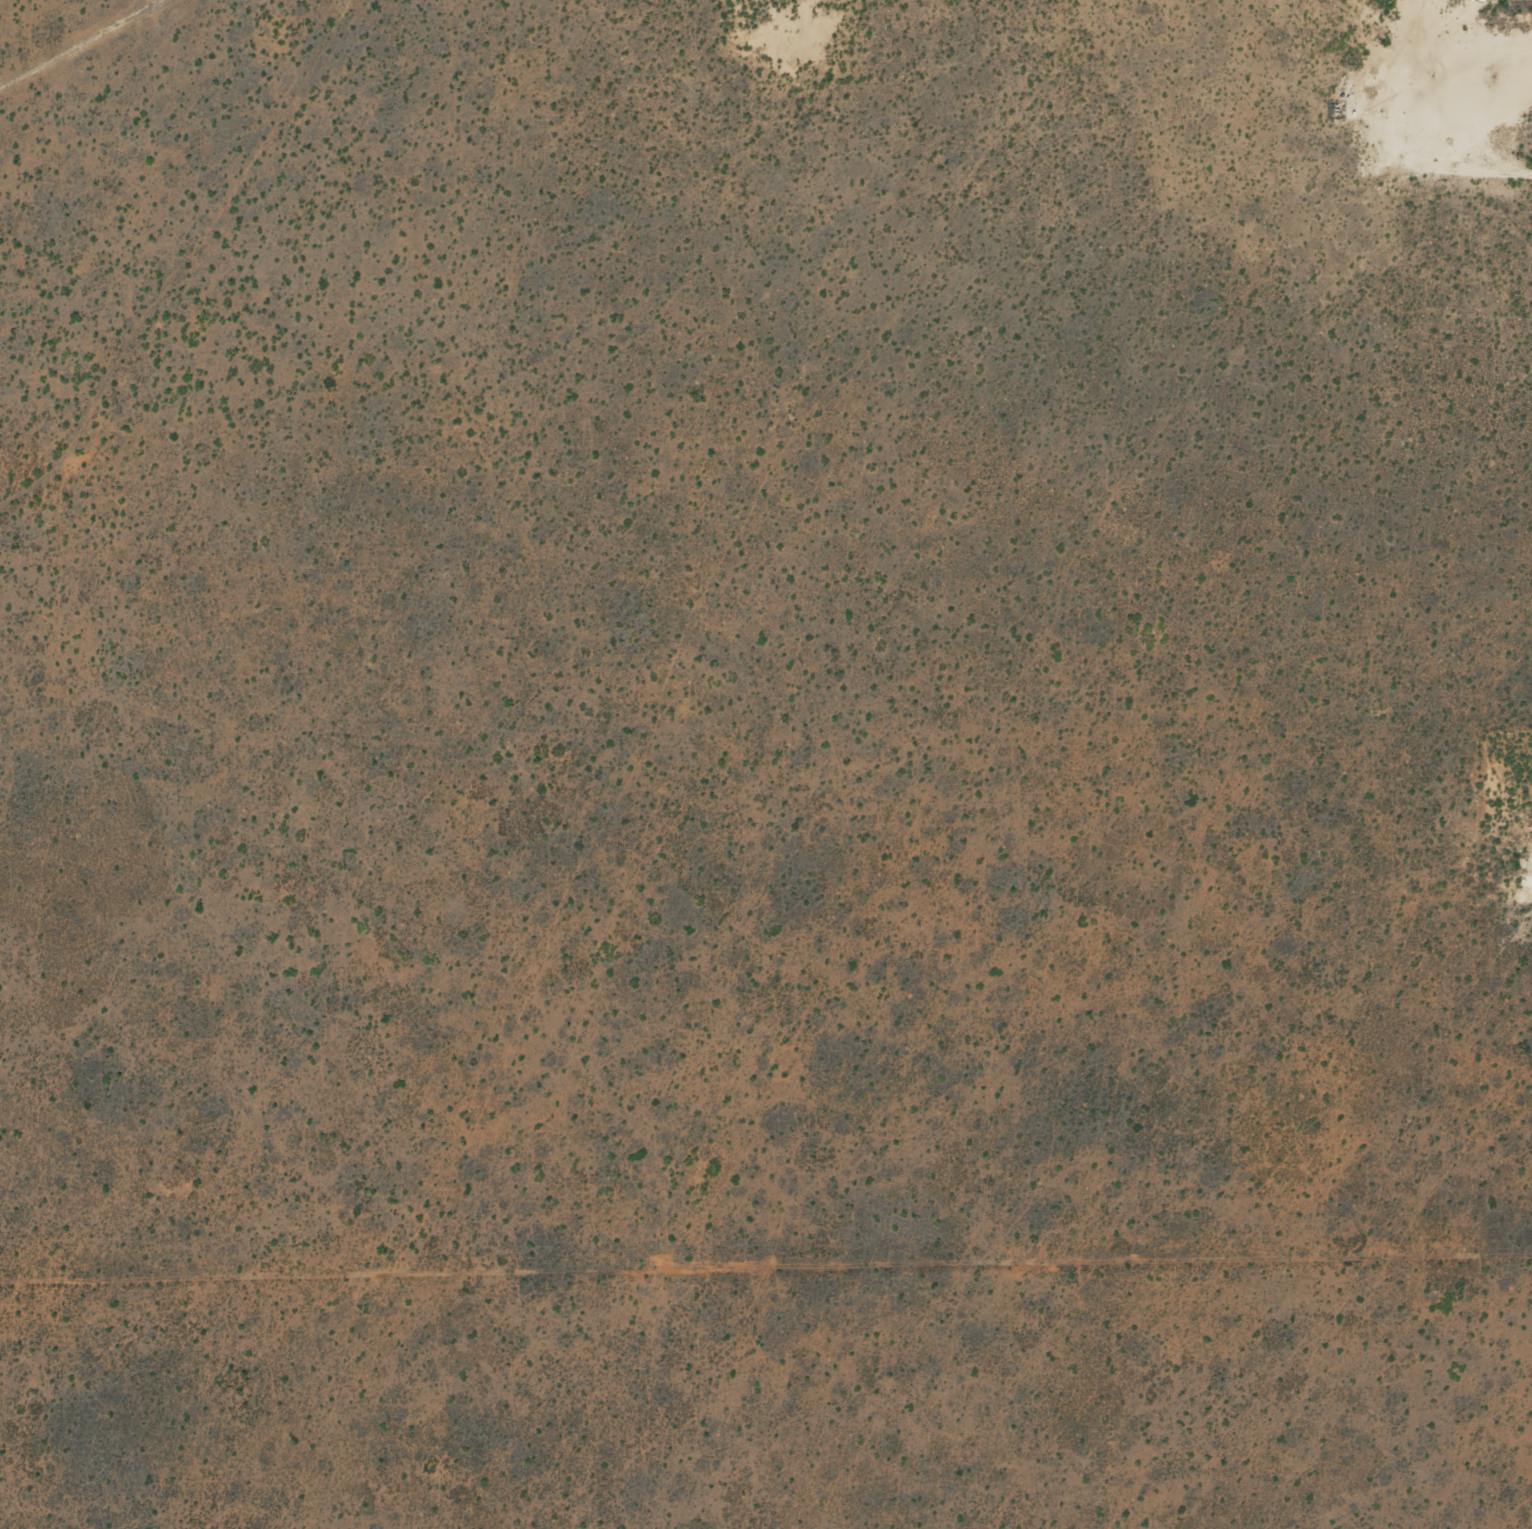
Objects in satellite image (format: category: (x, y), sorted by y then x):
road: (1497, 172)

